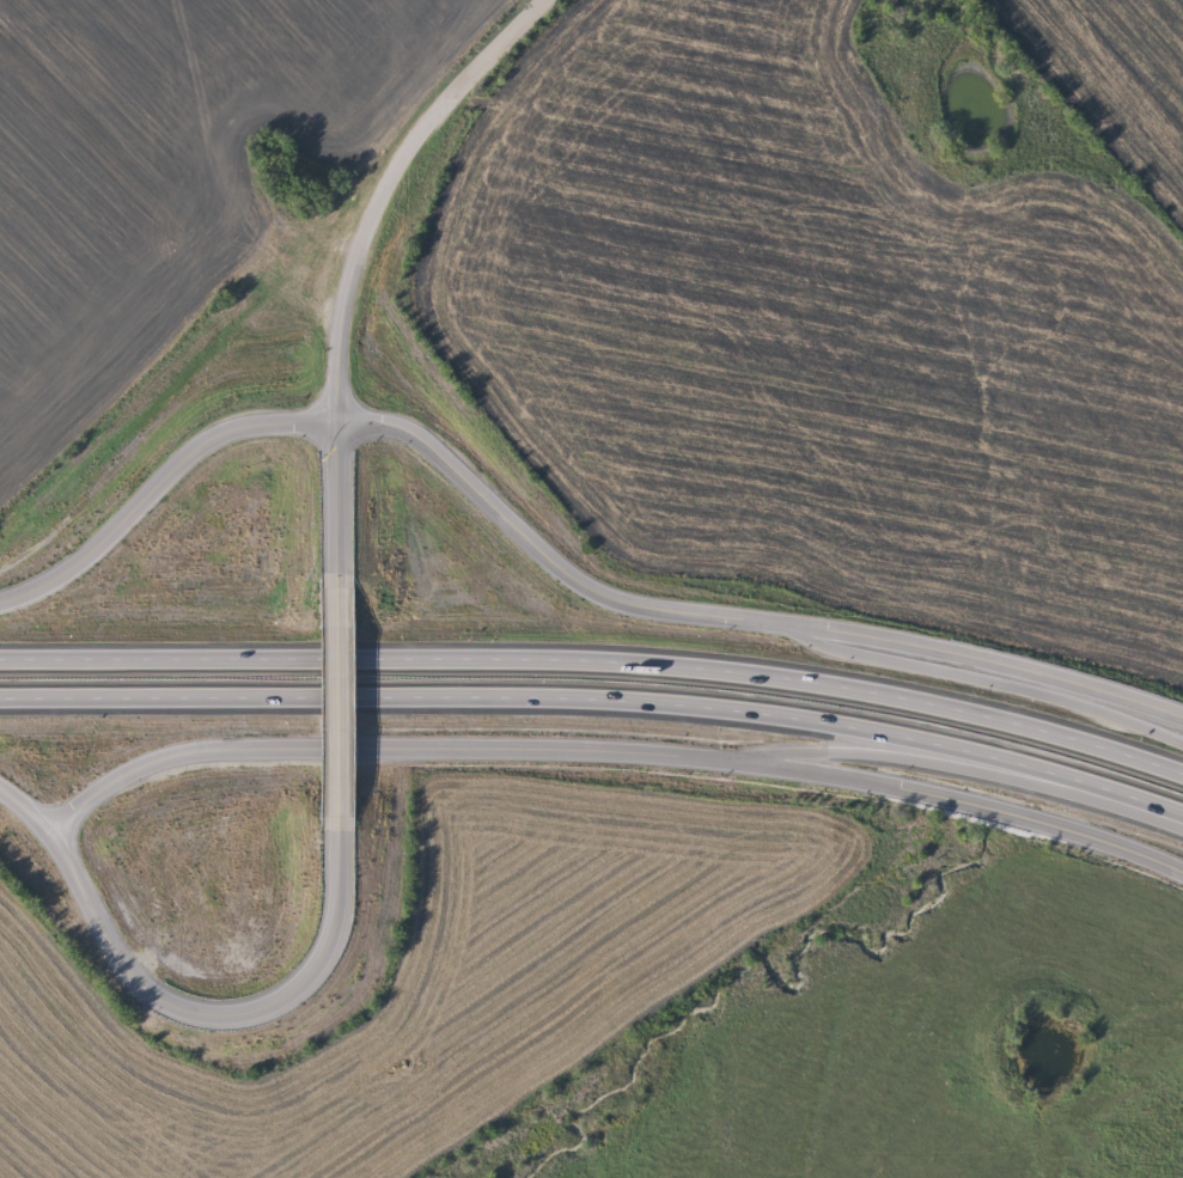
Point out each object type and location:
road: (385, 184)
road: (400, 422)
road: (340, 502)
road: (993, 655)
road: (597, 663)
road: (990, 678)
road: (598, 698)
road: (342, 707)
road: (385, 744)
road: (966, 769)
road: (969, 801)
road: (23, 807)
road: (212, 1013)

